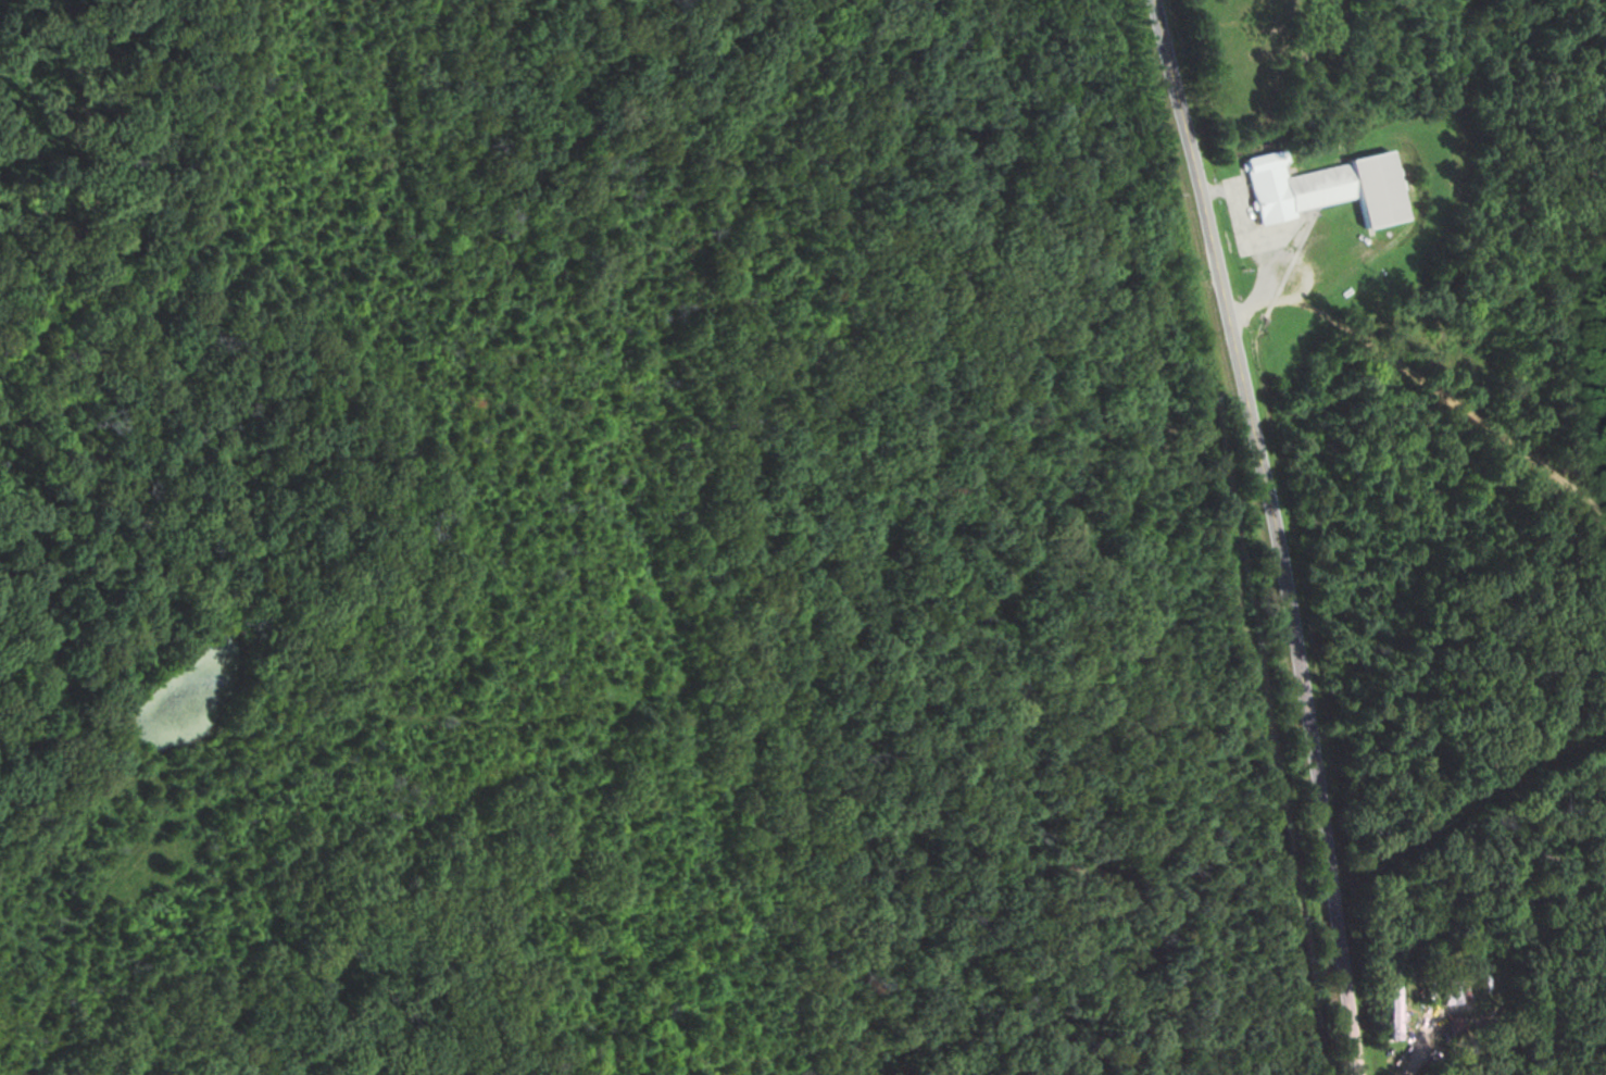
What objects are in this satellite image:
building: (1332, 187)
road: (1427, 380)
road: (1271, 534)

